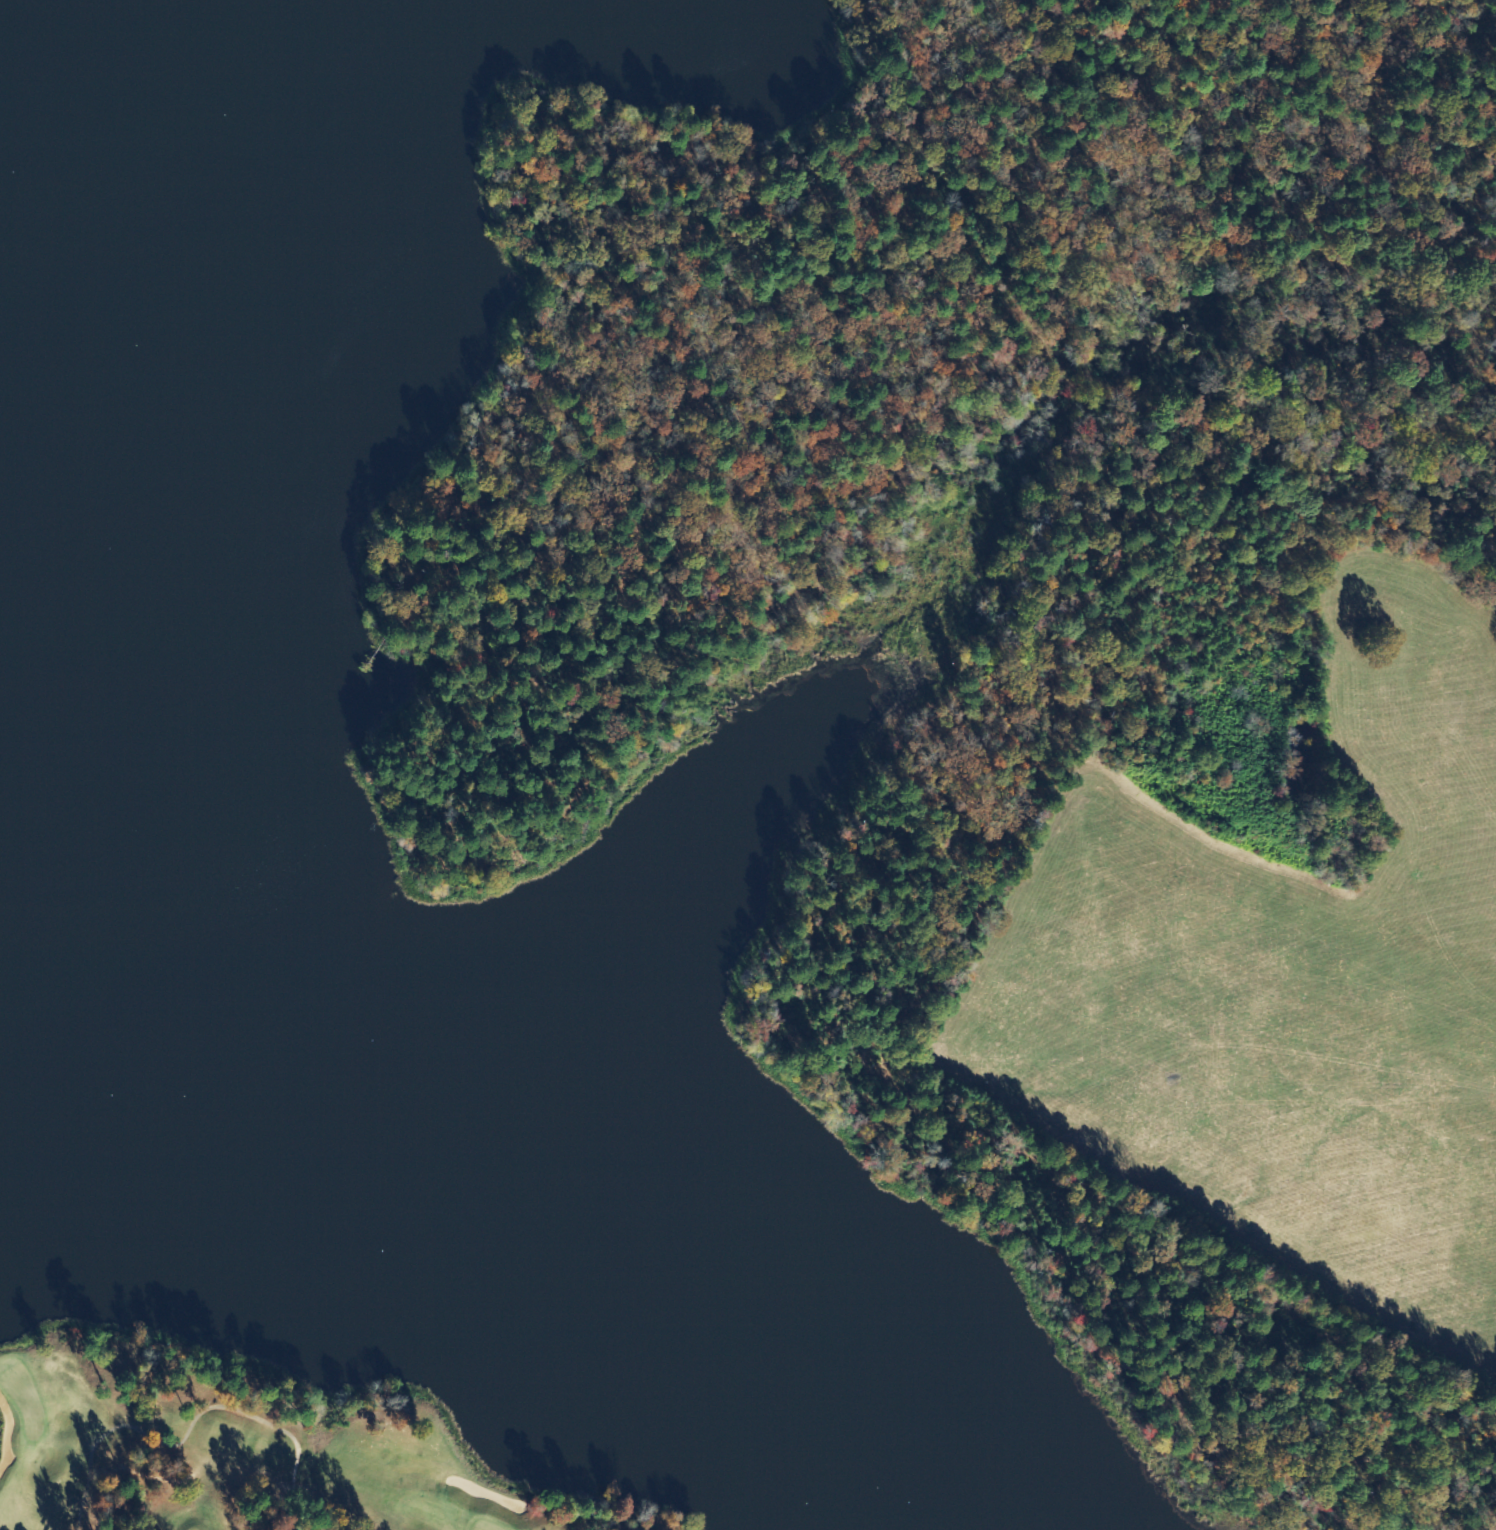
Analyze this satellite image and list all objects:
airport runway: (1278, 934)
airport: (1275, 1011)
park: (1064, 1339)
park: (20, 1396)
park: (245, 1447)

